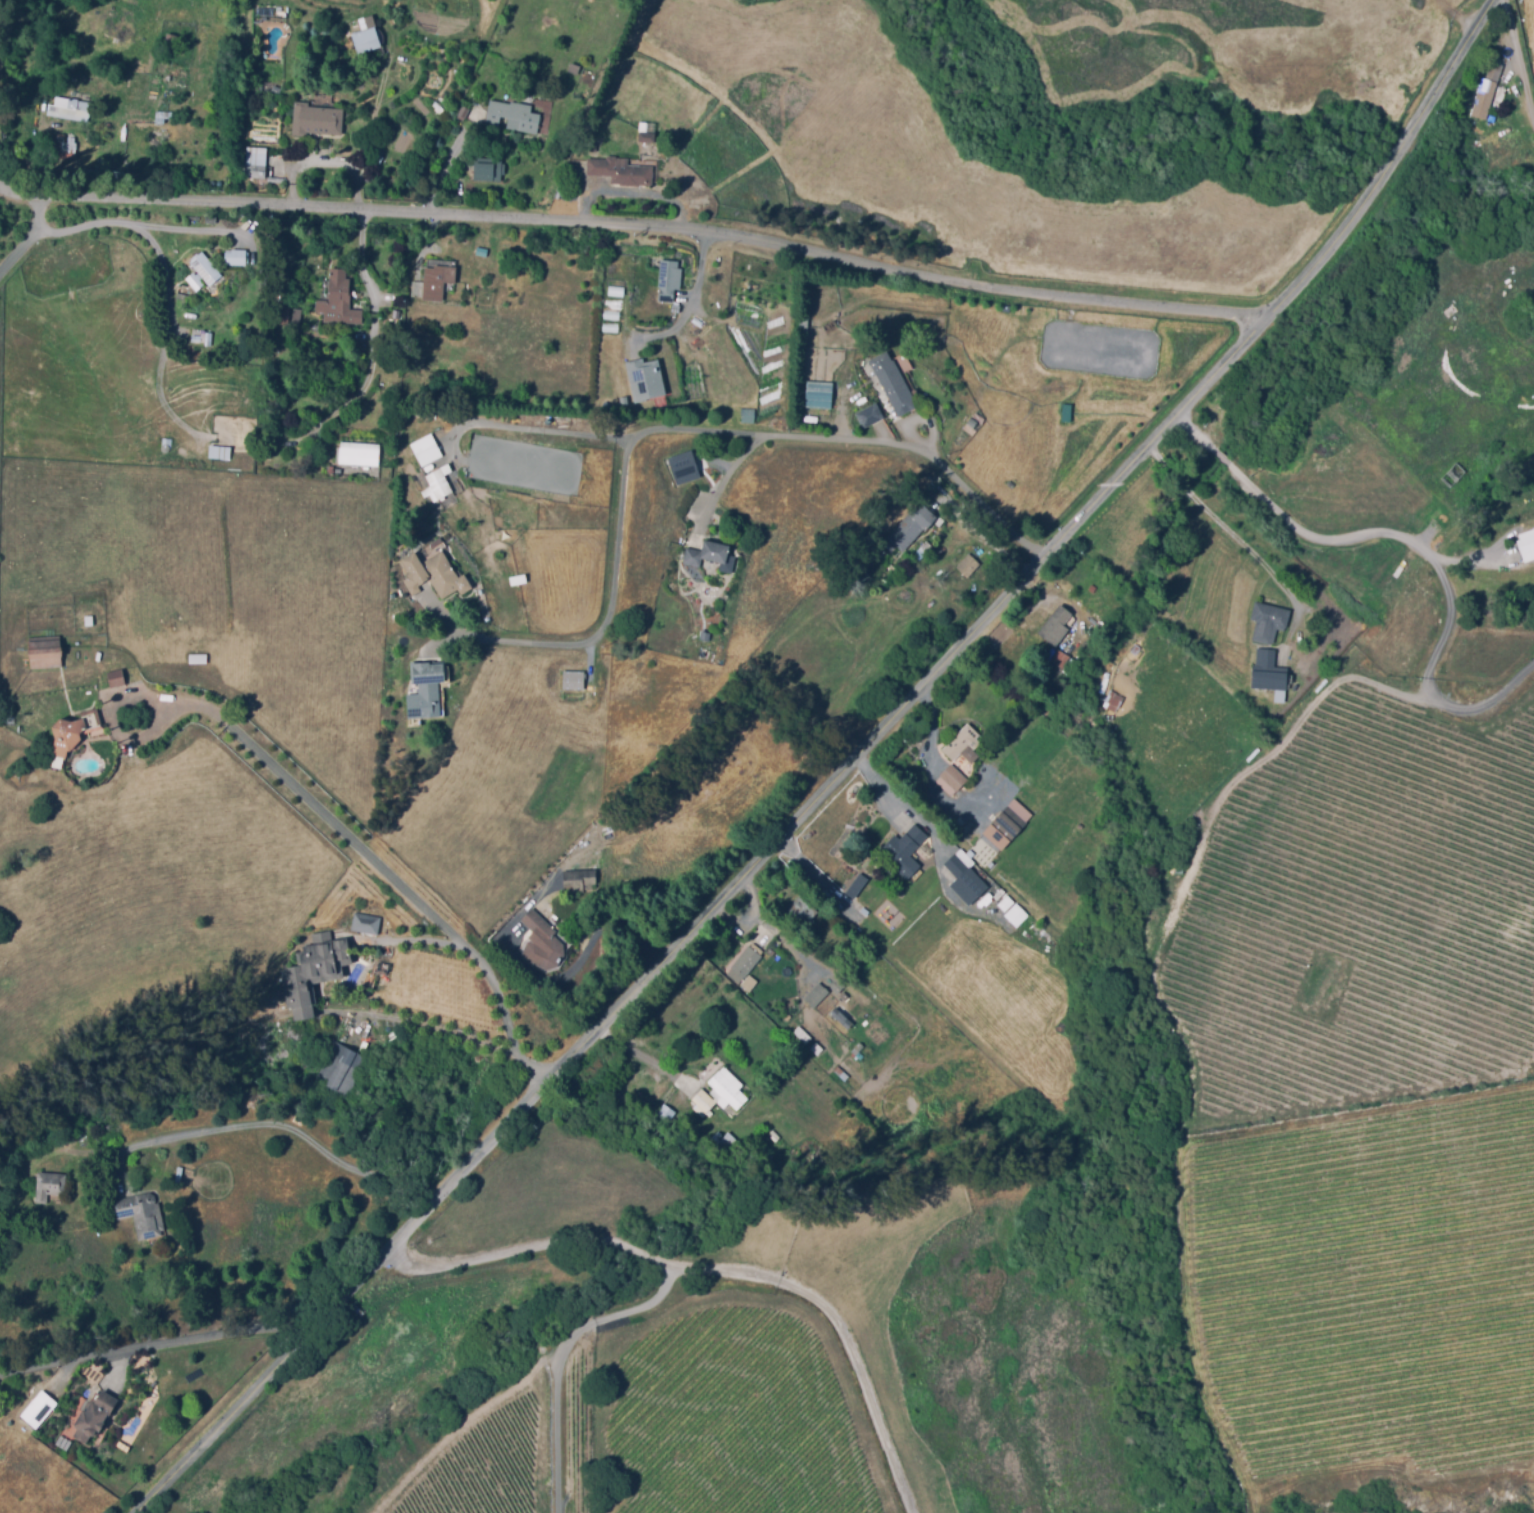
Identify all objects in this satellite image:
building: (265, 12)
road: (1455, 17)
building: (370, 42)
building: (170, 44)
road: (1521, 51)
building: (1489, 90)
building: (73, 108)
building: (514, 114)
building: (631, 116)
building: (1491, 117)
building: (316, 120)
road: (372, 134)
building: (648, 140)
building: (67, 144)
building: (255, 162)
building: (487, 170)
building: (376, 172)
building: (621, 173)
building: (276, 179)
road: (634, 199)
building: (194, 217)
building: (211, 219)
road: (632, 223)
road: (135, 227)
road: (33, 239)
building: (482, 251)
building: (235, 258)
building: (206, 268)
building: (190, 277)
building: (666, 279)
building: (199, 285)
building: (437, 285)
building: (614, 290)
building: (338, 299)
road: (688, 305)
building: (673, 308)
building: (278, 313)
building: (395, 314)
building: (609, 314)
building: (296, 318)
building: (695, 321)
building: (804, 325)
building: (608, 327)
road: (377, 336)
road: (167, 338)
building: (643, 379)
building: (893, 383)
building: (822, 397)
building: (621, 400)
building: (604, 404)
storage tank: (604, 404)
building: (870, 415)
building: (975, 424)
road: (548, 431)
road: (688, 431)
road: (1196, 434)
building: (287, 436)
building: (424, 449)
building: (359, 453)
building: (222, 455)
road: (1220, 457)
building: (682, 467)
building: (258, 469)
building: (338, 469)
building: (330, 470)
building: (1454, 474)
building: (439, 483)
road: (723, 485)
road: (1221, 521)
building: (912, 525)
building: (1527, 544)
building: (711, 554)
building: (968, 564)
road: (1438, 570)
building: (438, 578)
building: (1092, 587)
building: (1269, 620)
building: (91, 623)
building: (1057, 624)
building: (706, 636)
building: (45, 654)
building: (1060, 658)
building: (199, 660)
building: (1269, 670)
building: (117, 680)
building: (576, 682)
building: (427, 696)
road: (504, 698)
building: (1112, 700)
road: (126, 702)
building: (73, 734)
building: (963, 741)
road: (930, 757)
road: (842, 775)
building: (952, 778)
road: (915, 813)
building: (1006, 827)
building: (907, 852)
building: (967, 877)
road: (821, 880)
building: (581, 882)
building: (858, 887)
road: (407, 893)
building: (1004, 903)
building: (1015, 906)
crop: (1363, 911)
building: (804, 913)
building: (1014, 914)
building: (366, 923)
building: (548, 941)
road: (590, 955)
building: (742, 961)
building: (321, 971)
building: (836, 984)
building: (814, 992)
building: (839, 1017)
road: (432, 1026)
building: (800, 1032)
building: (814, 1046)
road: (639, 1055)
building: (342, 1071)
building: (724, 1085)
building: (700, 1099)
building: (662, 1105)
road: (304, 1138)
building: (726, 1142)
building: (51, 1190)
building: (143, 1219)
road: (723, 1269)
crop: (1374, 1287)
road: (163, 1346)
road: (566, 1354)
building: (40, 1412)
crop: (738, 1420)
building: (96, 1421)
crop: (486, 1467)

